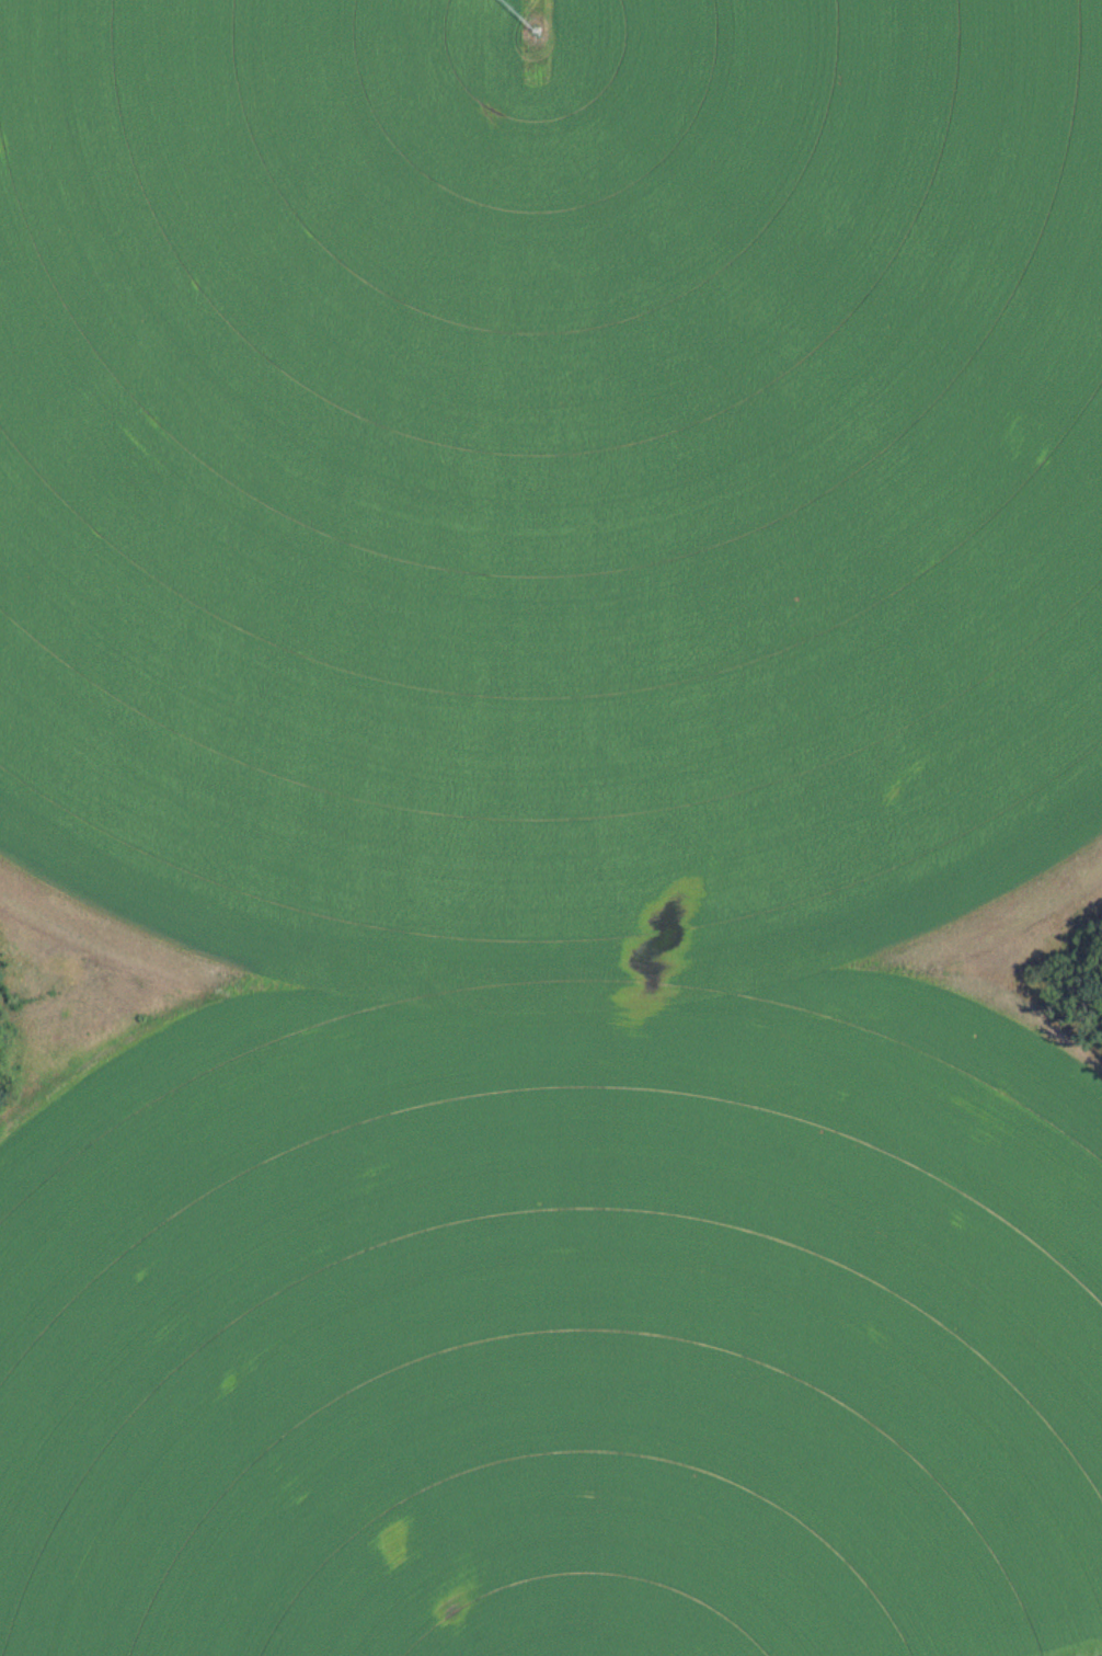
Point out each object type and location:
wastewater plant: (551, 827)

